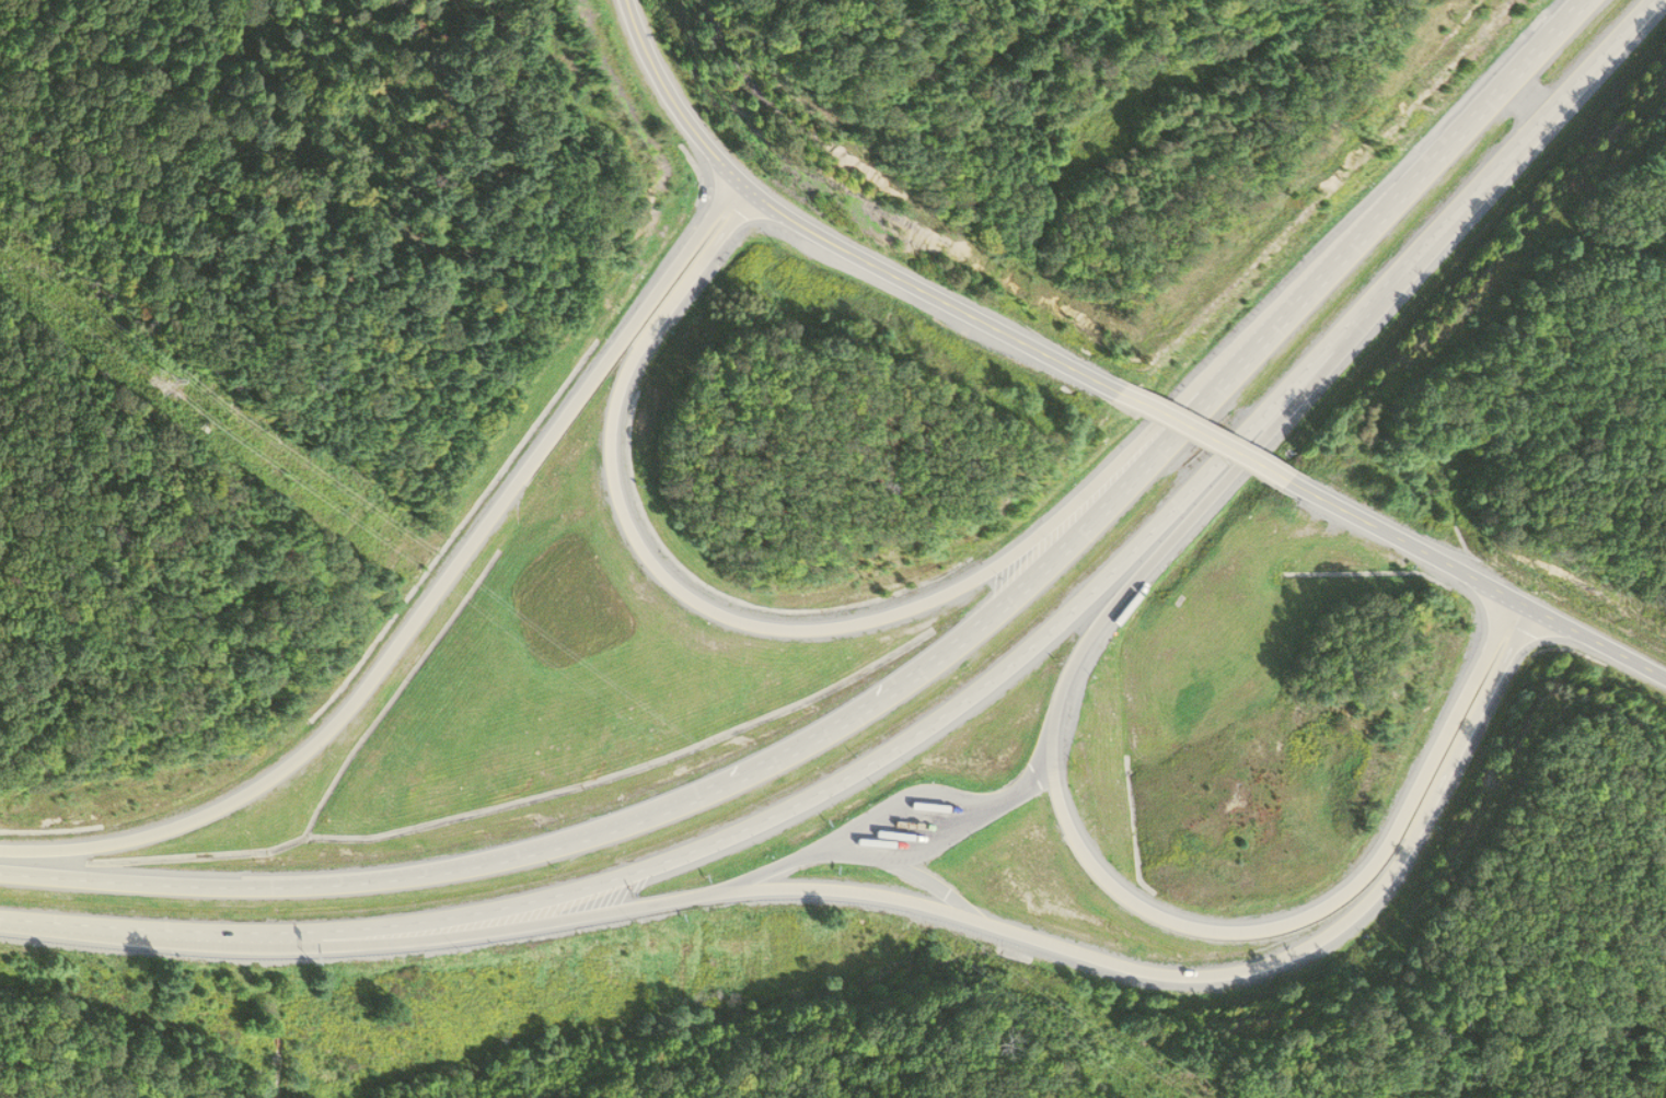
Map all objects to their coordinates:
road: (825, 243)
power tower: (173, 381)
road: (1206, 436)
road: (1481, 581)
building: (1122, 599)
road: (426, 605)
road: (696, 605)
road: (909, 671)
road: (949, 704)
road: (1086, 866)
road: (992, 934)

